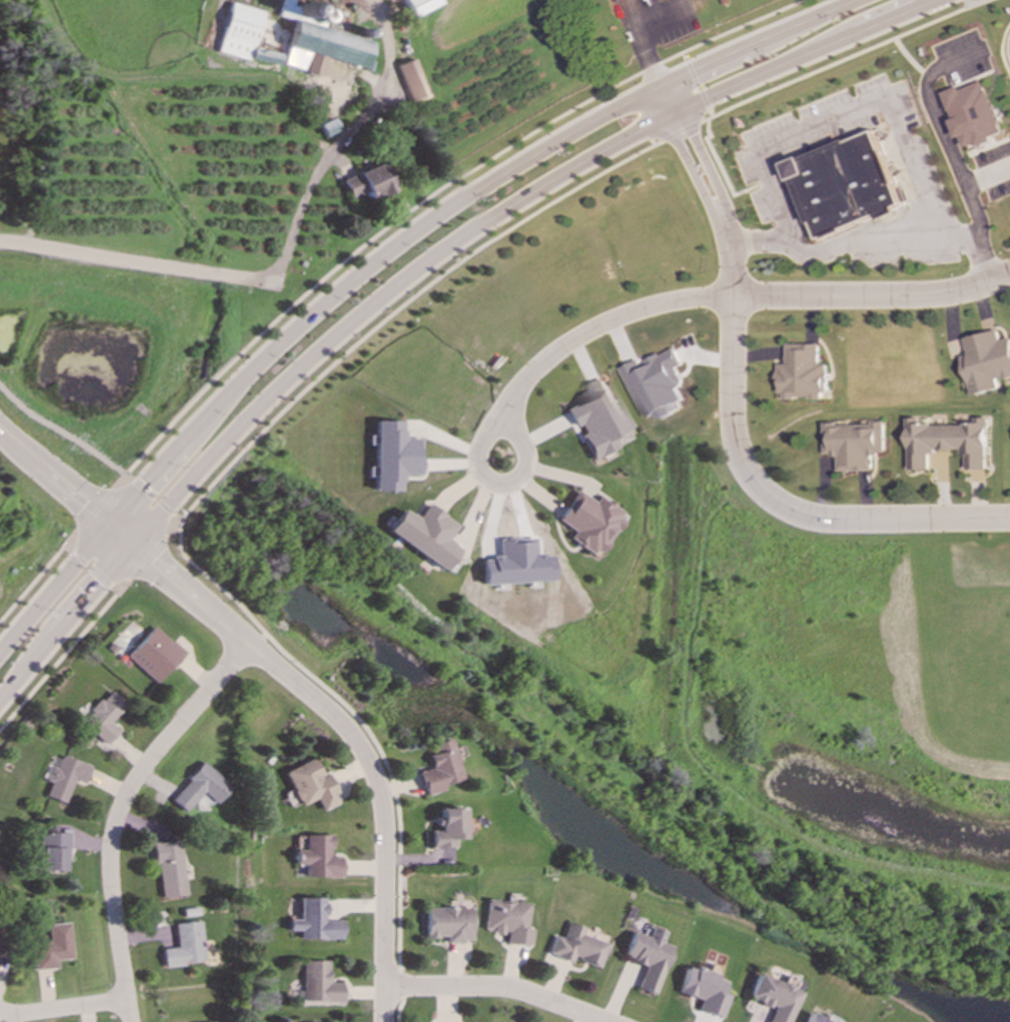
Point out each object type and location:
crop: (765, 1)
road: (968, 2)
road: (978, 2)
building: (419, 6)
building: (244, 35)
road: (642, 37)
building: (319, 43)
road: (907, 59)
road: (834, 62)
building: (413, 82)
road: (694, 84)
road: (844, 114)
building: (973, 114)
road: (678, 130)
road: (336, 148)
road: (947, 151)
road: (986, 176)
building: (369, 183)
building: (844, 185)
road: (426, 200)
road: (846, 243)
road: (379, 258)
road: (140, 262)
road: (409, 273)
road: (738, 297)
road: (392, 312)
building: (987, 362)
building: (802, 374)
building: (655, 384)
road: (729, 412)
building: (596, 419)
road: (60, 430)
building: (948, 443)
building: (855, 445)
building: (392, 456)
road: (127, 477)
road: (496, 484)
road: (65, 489)
road: (153, 500)
road: (94, 510)
traffic signals: (107, 522)
building: (588, 522)
building: (425, 535)
traffic signals: (134, 543)
road: (67, 549)
road: (147, 557)
road: (91, 569)
road: (37, 576)
road: (115, 589)
road: (64, 655)
building: (155, 655)
building: (105, 718)
park: (833, 722)
road: (350, 737)
building: (439, 768)
building: (66, 778)
building: (310, 786)
building: (201, 788)
road: (121, 812)
building: (447, 828)
building: (55, 851)
building: (317, 858)
building: (170, 869)
building: (314, 921)
building: (508, 921)
building: (448, 924)
building: (186, 945)
building: (576, 947)
building: (53, 948)
building: (648, 958)
building: (318, 983)
road: (495, 989)
building: (704, 991)
building: (774, 998)
park: (489, 1005)
road: (64, 1008)
building: (814, 1019)

